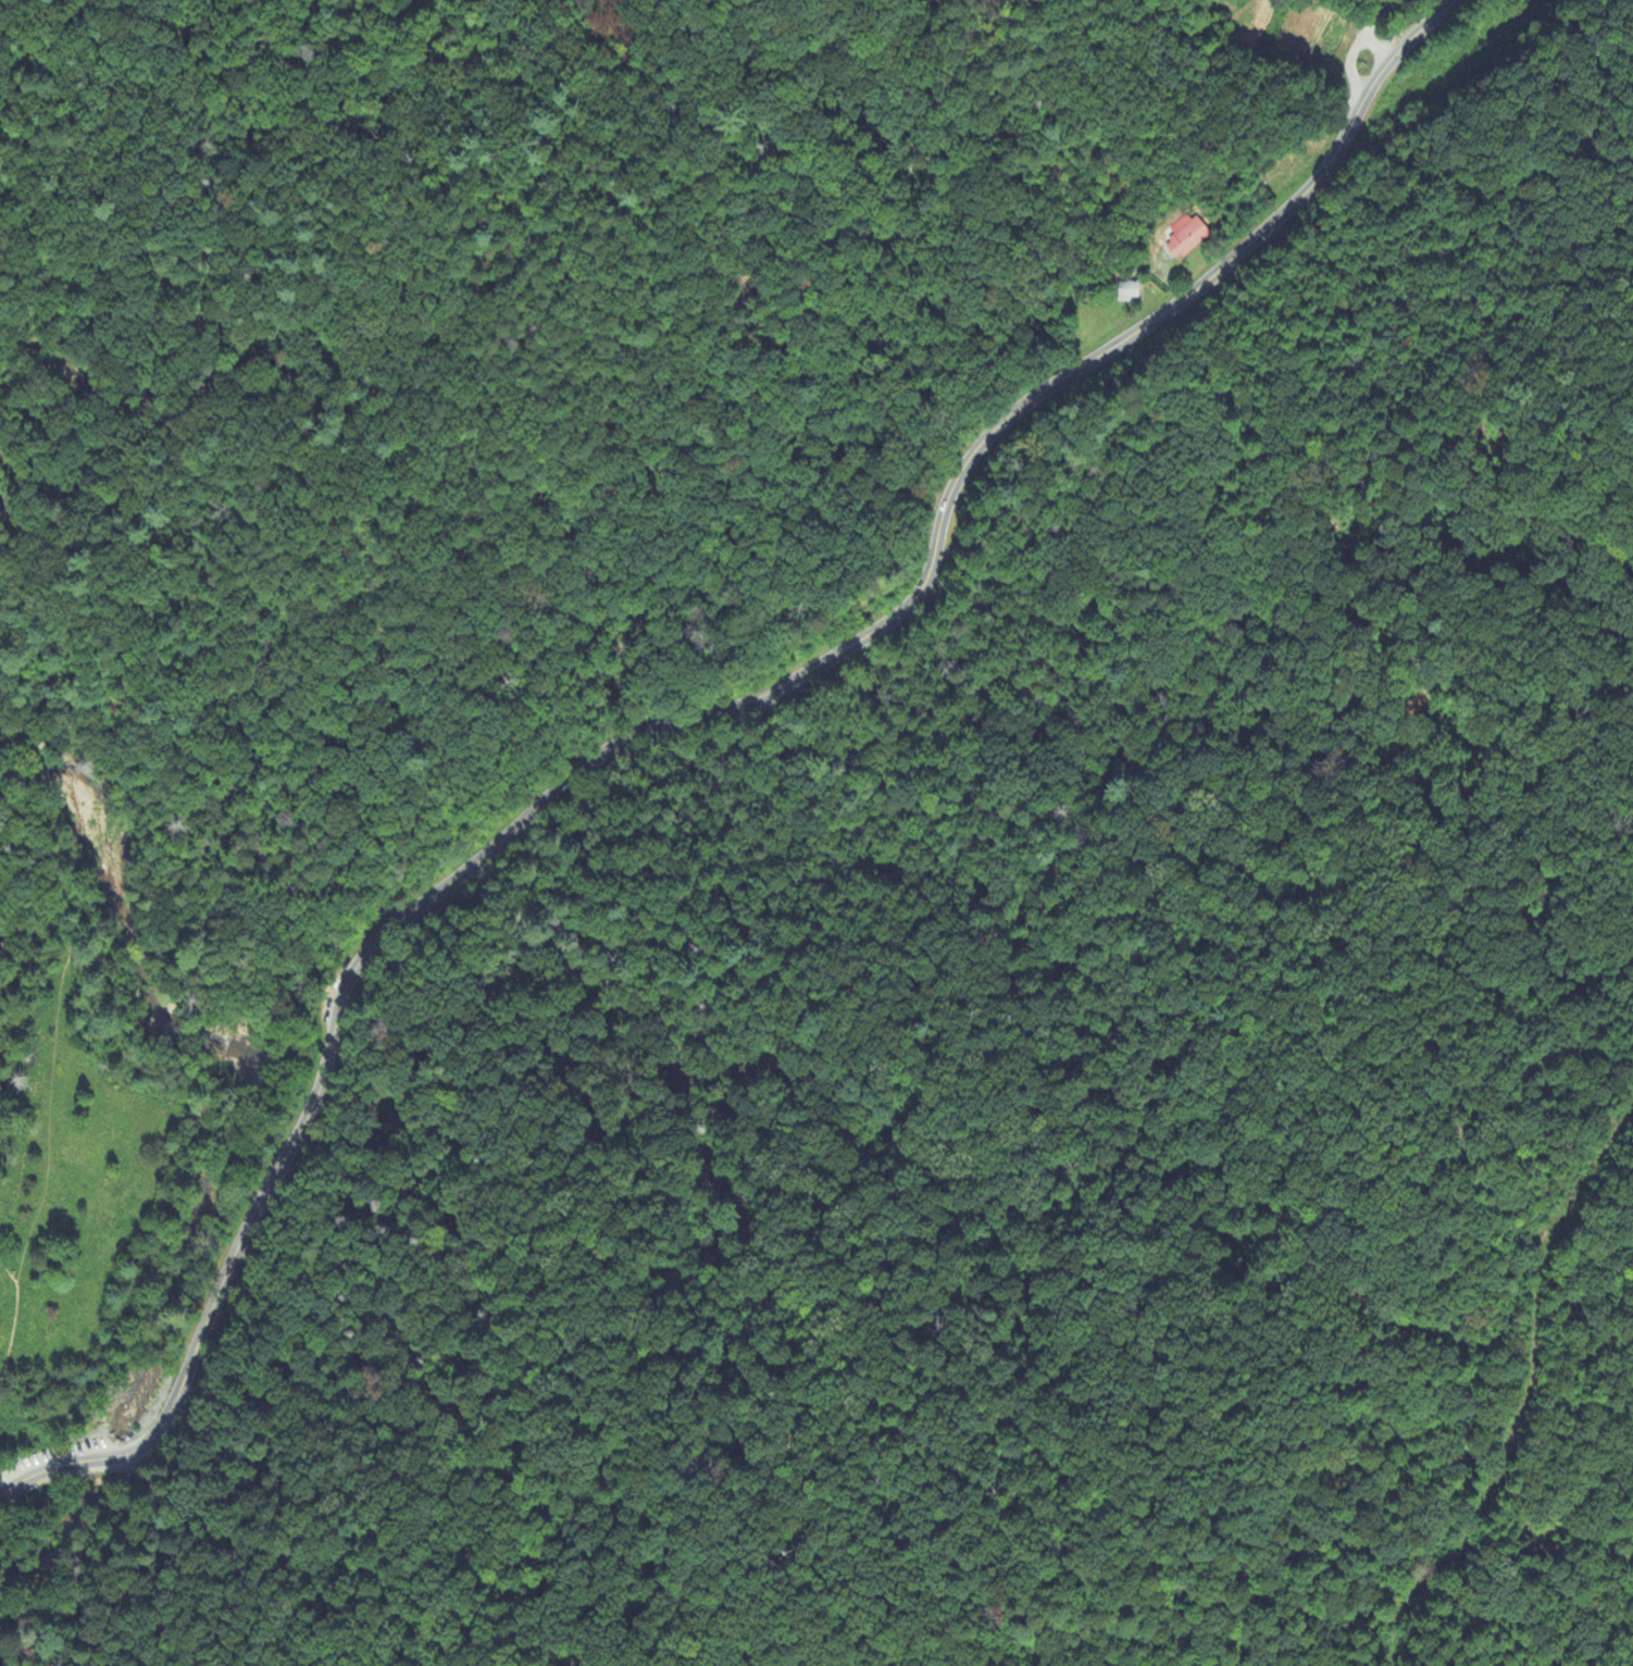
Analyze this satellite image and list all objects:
road: (1366, 28)
road: (1350, 75)
building: (1187, 237)
road: (680, 728)
road: (58, 1086)
parking lot: (138, 1466)
road: (2, 1477)
road: (130, 1557)

